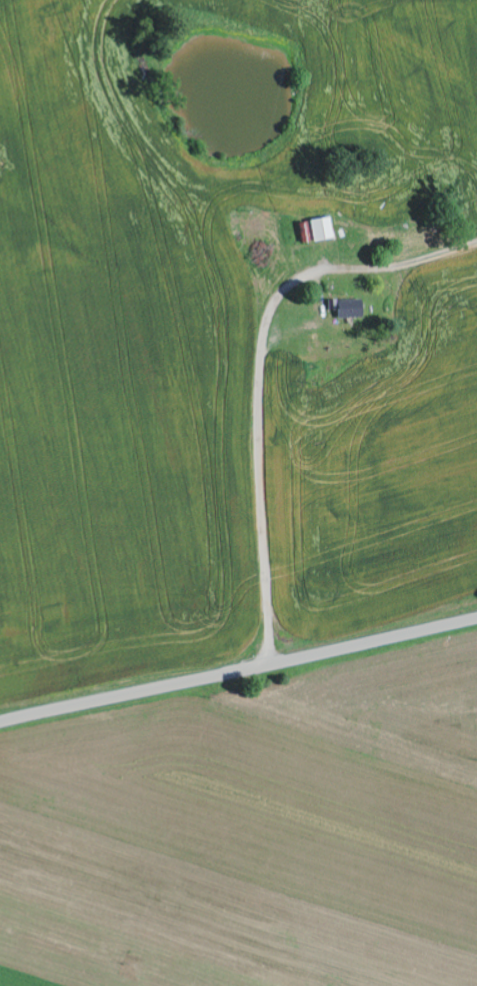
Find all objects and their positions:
building: (346, 309)
road: (261, 435)
road: (238, 672)

